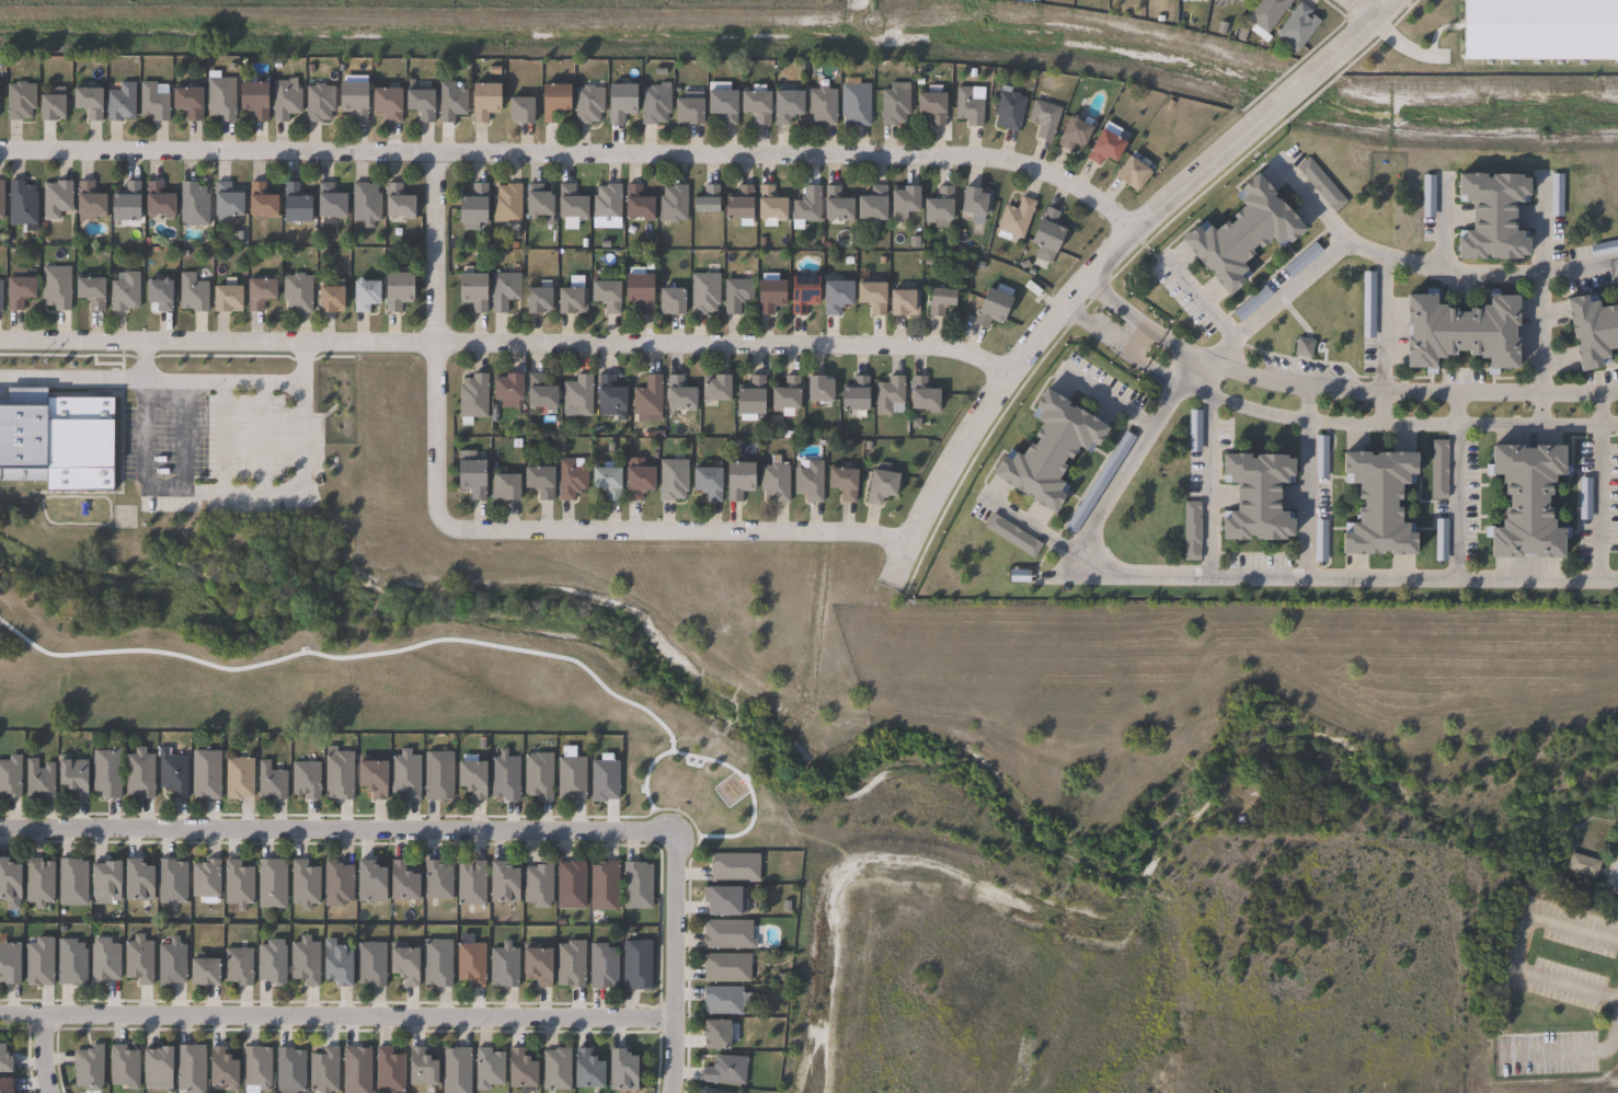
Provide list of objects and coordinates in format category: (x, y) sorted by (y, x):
building: (1235, 1)
road: (1353, 11)
building: (1267, 13)
building: (1298, 27)
building: (1541, 30)
road: (1356, 31)
road: (1289, 91)
building: (219, 99)
building: (19, 101)
building: (252, 101)
building: (285, 101)
building: (352, 101)
building: (450, 102)
building: (483, 102)
building: (88, 103)
building: (119, 103)
building: (152, 103)
building: (186, 103)
building: (318, 103)
building: (553, 103)
building: (620, 103)
building: (722, 103)
building: (386, 104)
building: (655, 104)
building: (856, 104)
building: (895, 104)
building: (418, 105)
building: (588, 105)
building: (822, 105)
building: (931, 105)
building: (756, 106)
building: (785, 106)
building: (968, 107)
building: (48, 108)
building: (519, 111)
building: (1009, 111)
building: (688, 113)
building: (1044, 119)
building: (1076, 134)
building: (1108, 146)
road: (575, 150)
road: (1195, 173)
building: (1133, 174)
building: (1322, 184)
building: (1553, 195)
building: (0, 196)
building: (55, 198)
building: (88, 198)
building: (707, 198)
building: (157, 199)
building: (225, 199)
building: (329, 199)
building: (976, 199)
building: (260, 200)
building: (397, 200)
building: (536, 200)
building: (904, 200)
road: (1308, 200)
building: (125, 202)
building: (294, 202)
building: (365, 202)
building: (571, 202)
building: (506, 203)
building: (606, 203)
building: (638, 203)
building: (672, 203)
building: (21, 204)
building: (192, 204)
building: (837, 204)
building: (739, 205)
building: (807, 205)
building: (872, 205)
building: (939, 205)
building: (472, 206)
building: (770, 206)
building: (1495, 212)
building: (1015, 218)
road: (1439, 222)
building: (1048, 230)
building: (1243, 231)
building: (1603, 249)
road: (1478, 275)
building: (55, 286)
building: (395, 289)
building: (471, 289)
building: (16, 290)
building: (88, 290)
building: (503, 290)
building: (124, 291)
building: (257, 291)
building: (297, 291)
building: (639, 291)
building: (803, 291)
building: (157, 292)
building: (192, 292)
building: (704, 292)
building: (769, 292)
building: (364, 294)
building: (605, 294)
building: (736, 294)
building: (837, 295)
building: (330, 296)
building: (872, 296)
building: (225, 297)
road: (1540, 298)
building: (537, 299)
building: (571, 299)
building: (670, 299)
building: (941, 300)
building: (904, 301)
road: (1201, 302)
building: (994, 304)
building: (1365, 306)
building: (1594, 329)
building: (1464, 330)
road: (1380, 338)
road: (505, 342)
building: (1305, 347)
road: (141, 359)
road: (1186, 378)
road: (168, 379)
building: (505, 386)
building: (718, 387)
building: (818, 388)
road: (1335, 391)
road: (991, 392)
building: (679, 393)
building: (785, 393)
building: (539, 394)
building: (888, 394)
building: (923, 394)
building: (472, 395)
building: (608, 395)
building: (856, 395)
building: (577, 396)
building: (647, 396)
building: (750, 399)
road: (1106, 400)
road: (1323, 421)
building: (1192, 432)
building: (58, 439)
building: (1049, 450)
road: (1207, 470)
building: (1439, 470)
building: (470, 476)
building: (538, 476)
building: (638, 478)
building: (570, 479)
building: (673, 480)
building: (738, 480)
building: (774, 480)
building: (810, 480)
building: (606, 481)
building: (707, 482)
building: (844, 482)
road: (1306, 483)
road: (1453, 485)
building: (504, 486)
building: (881, 486)
road: (1598, 486)
road: (221, 491)
building: (1258, 496)
building: (1530, 499)
building: (1380, 502)
road: (1025, 525)
road: (484, 530)
building: (1192, 530)
building: (1012, 534)
building: (1021, 575)
road: (1335, 578)
park: (450, 632)
building: (105, 773)
building: (171, 773)
building: (138, 774)
building: (337, 774)
building: (70, 775)
building: (204, 775)
building: (404, 775)
building: (437, 775)
building: (538, 775)
building: (571, 775)
building: (505, 776)
building: (9, 778)
building: (471, 778)
building: (237, 779)
building: (371, 779)
building: (604, 779)
building: (37, 780)
building: (305, 780)
building: (271, 782)
road: (334, 829)
building: (1585, 866)
building: (735, 867)
road: (1614, 875)
building: (205, 879)
building: (437, 881)
building: (135, 882)
building: (170, 882)
building: (8, 883)
building: (38, 883)
building: (70, 883)
building: (102, 883)
building: (368, 883)
building: (402, 883)
building: (271, 884)
building: (336, 884)
building: (470, 884)
building: (501, 884)
building: (237, 885)
building: (303, 885)
building: (537, 885)
building: (570, 885)
building: (604, 886)
building: (635, 886)
building: (723, 901)
building: (727, 935)
road: (1517, 947)
building: (137, 960)
building: (37, 962)
building: (305, 962)
building: (102, 963)
building: (271, 963)
building: (437, 963)
building: (8, 964)
building: (69, 964)
building: (170, 964)
building: (338, 964)
building: (370, 964)
building: (470, 964)
building: (504, 965)
building: (535, 965)
building: (571, 965)
road: (670, 965)
building: (403, 966)
building: (635, 966)
building: (237, 967)
building: (601, 967)
building: (726, 967)
building: (202, 974)
building: (722, 1000)
road: (335, 1016)
building: (715, 1036)
road: (1574, 1052)
road: (42, 1054)
building: (3, 1065)
building: (87, 1068)
building: (122, 1068)
building: (154, 1069)
building: (190, 1069)
building: (255, 1069)
building: (420, 1069)
building: (490, 1069)
building: (558, 1069)
building: (222, 1070)
building: (355, 1070)
building: (456, 1070)
building: (725, 1070)
building: (289, 1071)
building: (323, 1071)
building: (388, 1071)
building: (519, 1071)
building: (586, 1071)
building: (620, 1071)
building: (4, 1086)
building: (710, 1091)

